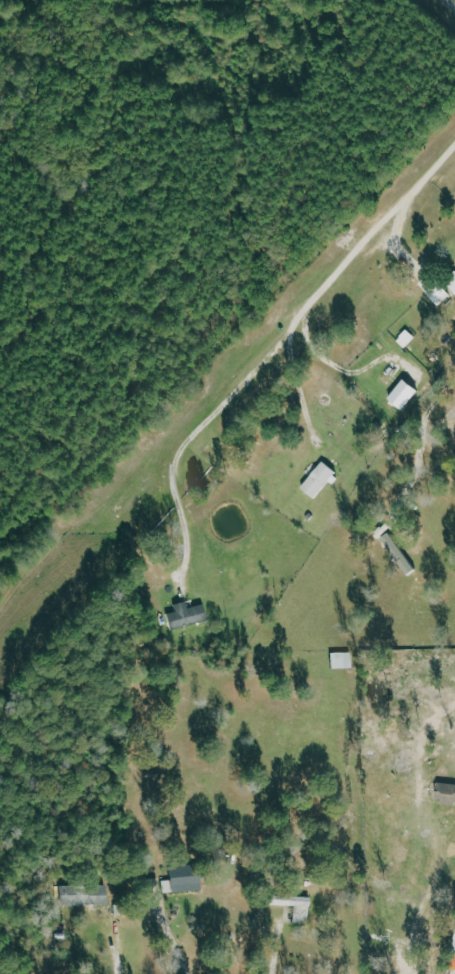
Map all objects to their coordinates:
road: (448, 6)
building: (451, 282)
building: (440, 295)
building: (405, 339)
road: (279, 355)
road: (340, 367)
road: (301, 390)
building: (401, 395)
building: (319, 480)
building: (397, 554)
building: (185, 616)
building: (445, 792)
building: (184, 879)
building: (85, 895)
building: (294, 906)
road: (116, 943)
building: (453, 947)

